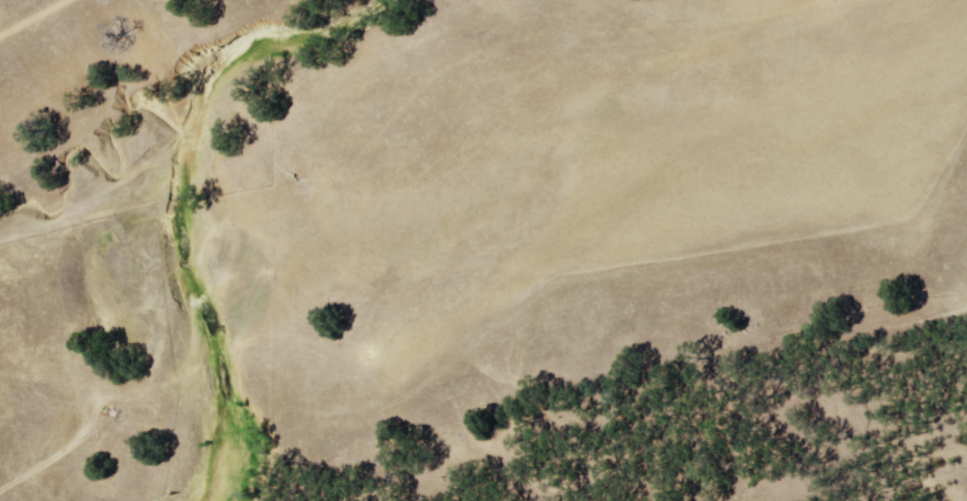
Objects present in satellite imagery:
road: (30, 16)
road: (94, 423)

